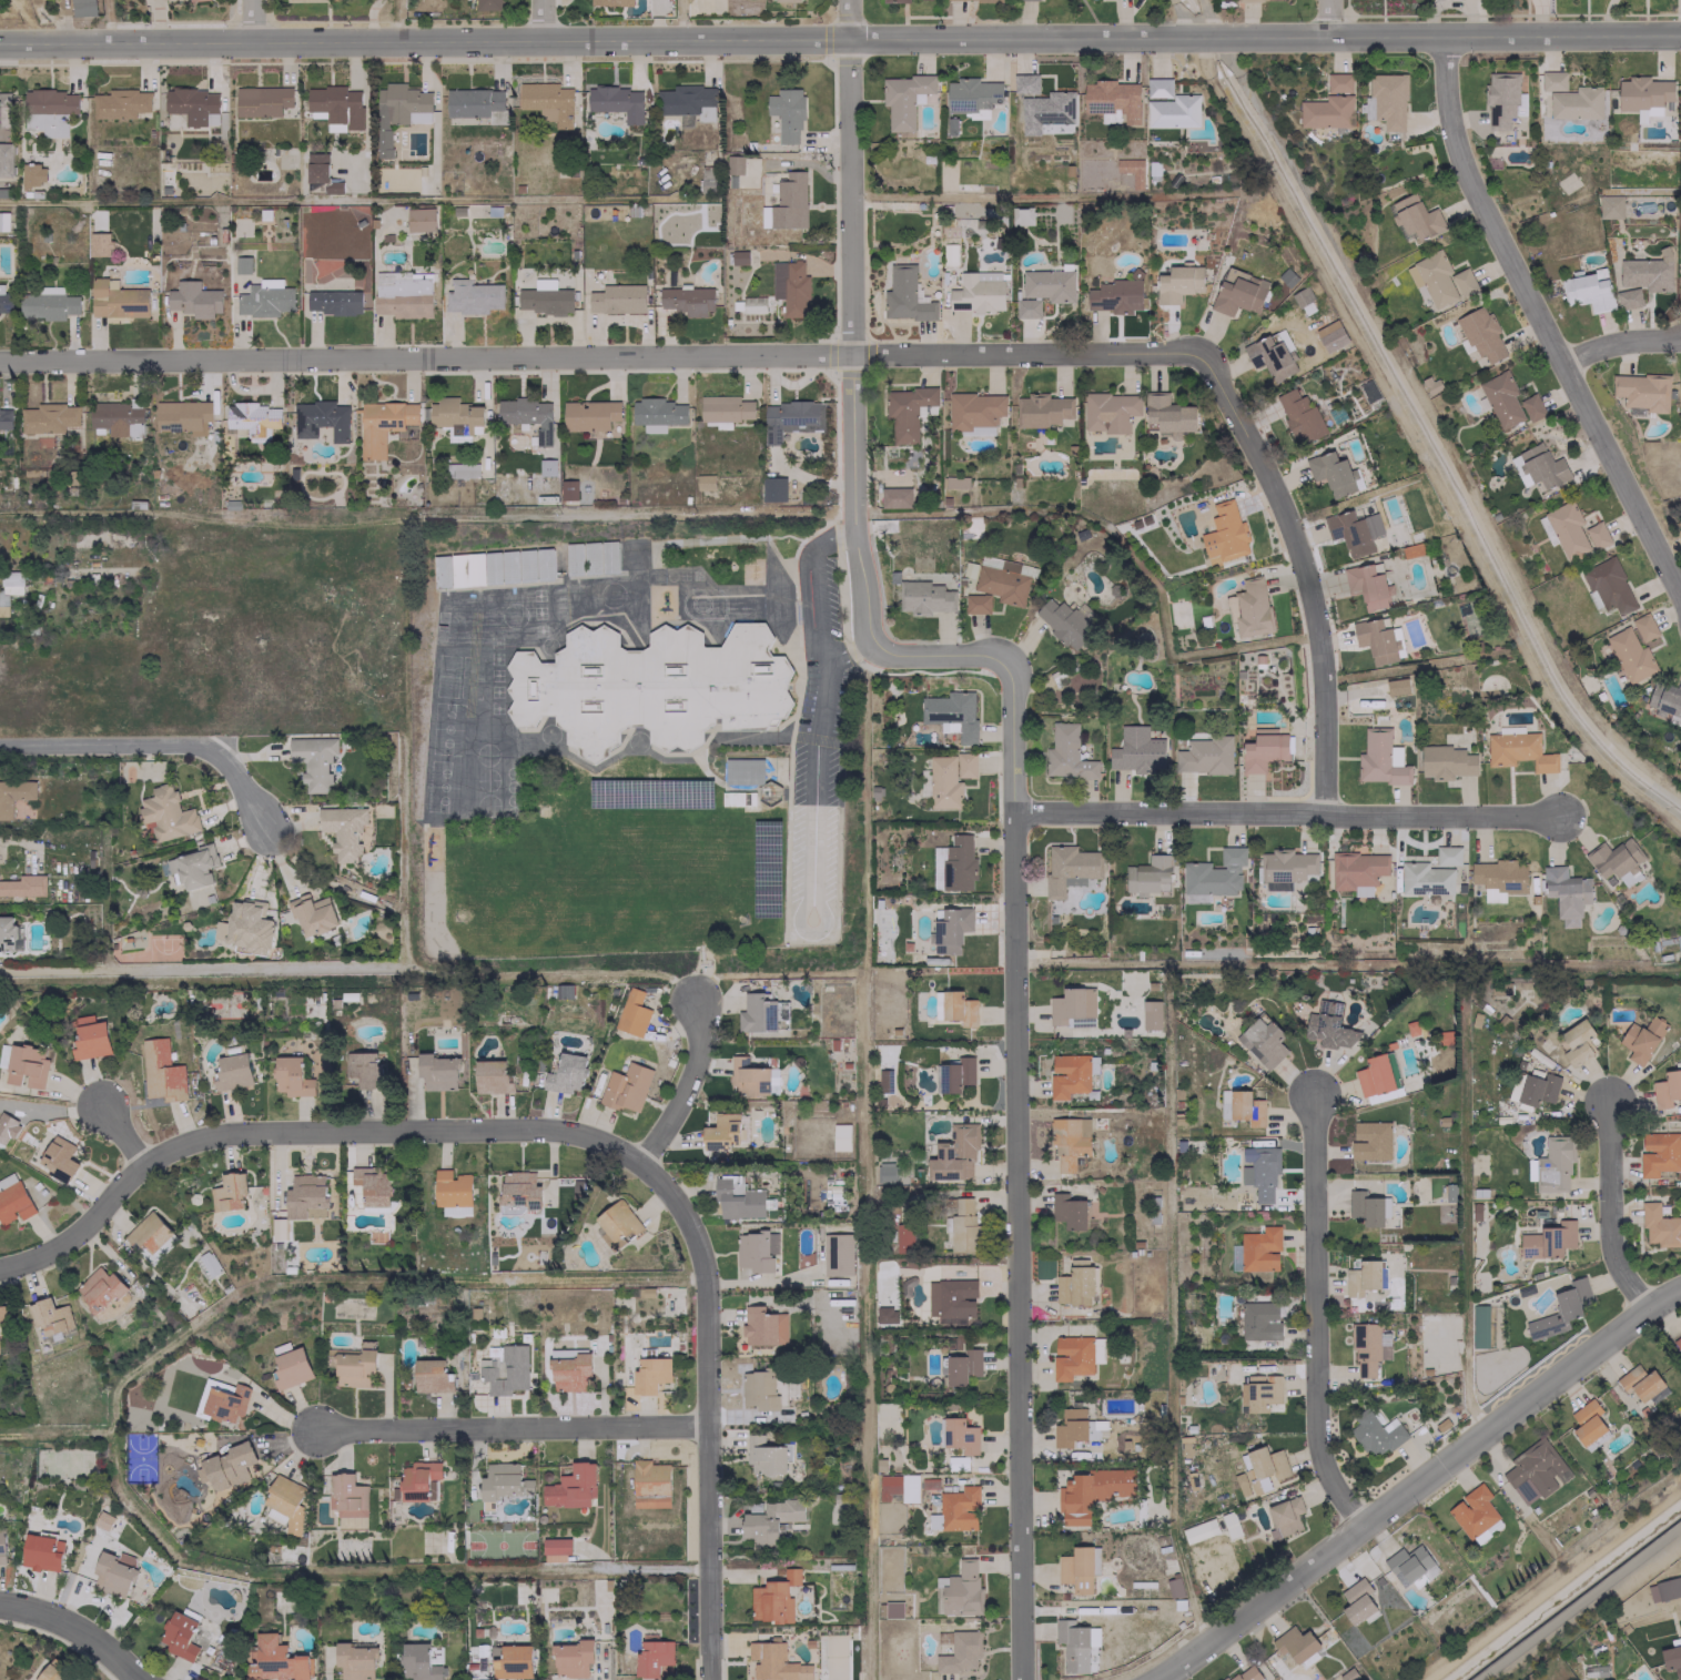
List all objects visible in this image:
building: (196, 0)
building: (786, 0)
building: (1034, 0)
building: (895, 1)
building: (610, 2)
building: (82, 8)
road: (1326, 19)
road: (540, 20)
road: (251, 21)
road: (840, 40)
building: (1338, 82)
building: (1024, 83)
building: (1158, 87)
building: (971, 94)
building: (1643, 95)
building: (903, 99)
building: (1502, 99)
building: (1568, 99)
building: (262, 100)
building: (1112, 100)
building: (1385, 100)
building: (547, 101)
building: (617, 101)
building: (688, 101)
building: (473, 102)
building: (120, 103)
building: (193, 104)
building: (402, 104)
building: (336, 107)
building: (1, 109)
building: (1045, 110)
building: (1174, 111)
building: (1326, 111)
building: (786, 114)
building: (6, 159)
building: (733, 164)
building: (316, 168)
building: (1131, 170)
building: (32, 174)
building: (707, 178)
building: (165, 180)
road: (1035, 196)
building: (787, 203)
building: (1610, 206)
building: (1021, 215)
building: (1416, 216)
building: (421, 219)
building: (3, 221)
building: (99, 243)
building: (739, 257)
building: (242, 264)
building: (1680, 274)
building: (1642, 277)
building: (1439, 279)
building: (1177, 283)
building: (1049, 284)
building: (790, 286)
building: (1587, 289)
building: (978, 292)
building: (1237, 292)
building: (403, 294)
building: (1116, 294)
building: (905, 295)
building: (472, 296)
building: (545, 297)
building: (264, 298)
building: (617, 298)
building: (117, 300)
building: (193, 300)
building: (687, 300)
building: (4, 302)
building: (334, 302)
building: (47, 303)
building: (752, 304)
building: (1026, 307)
road: (1538, 311)
building: (1480, 334)
road: (1620, 340)
road: (597, 355)
building: (1270, 355)
building: (1680, 388)
building: (1642, 391)
building: (1500, 398)
building: (1531, 407)
building: (723, 409)
building: (1042, 409)
building: (907, 411)
building: (974, 412)
building: (1108, 412)
building: (658, 413)
building: (1168, 413)
building: (589, 414)
building: (455, 415)
building: (527, 415)
building: (1298, 415)
building: (182, 416)
building: (4, 417)
building: (49, 417)
building: (118, 417)
building: (253, 418)
building: (789, 418)
building: (321, 419)
building: (382, 425)
building: (1540, 466)
building: (546, 467)
building: (462, 470)
building: (1331, 474)
building: (705, 482)
building: (955, 482)
building: (772, 488)
building: (567, 489)
building: (894, 496)
building: (1567, 529)
building: (1353, 532)
building: (1224, 534)
building: (1597, 535)
road: (830, 536)
building: (590, 558)
road: (1302, 571)
building: (996, 584)
building: (1608, 585)
building: (1366, 586)
building: (8, 589)
building: (924, 597)
building: (1249, 608)
building: (1065, 623)
building: (1643, 627)
building: (1375, 639)
road: (849, 650)
building: (1630, 655)
building: (650, 686)
building: (1397, 686)
building: (1664, 698)
building: (951, 714)
road: (152, 743)
building: (1263, 749)
building: (1518, 751)
building: (1066, 753)
building: (1137, 755)
building: (1204, 756)
building: (1380, 759)
building: (313, 761)
building: (1446, 761)
building: (965, 765)
building: (742, 770)
road: (813, 777)
road: (1011, 778)
building: (943, 783)
building: (13, 795)
road: (1284, 812)
building: (166, 813)
building: (343, 830)
building: (1447, 856)
building: (1616, 860)
building: (953, 864)
building: (190, 867)
building: (1069, 868)
building: (1285, 868)
building: (1358, 871)
building: (1213, 876)
building: (1498, 878)
building: (1425, 879)
building: (23, 885)
building: (1566, 893)
building: (312, 914)
building: (245, 928)
building: (950, 929)
building: (7, 932)
building: (1072, 1006)
building: (958, 1008)
building: (631, 1013)
building: (757, 1013)
building: (1150, 1014)
building: (1328, 1026)
building: (1411, 1028)
building: (89, 1038)
building: (1641, 1039)
building: (1263, 1042)
building: (1577, 1042)
building: (3, 1055)
building: (26, 1066)
building: (364, 1067)
building: (161, 1071)
building: (231, 1072)
building: (437, 1072)
building: (566, 1073)
building: (953, 1074)
building: (1067, 1075)
building: (1374, 1075)
building: (290, 1076)
building: (492, 1076)
building: (748, 1077)
building: (884, 1081)
road: (683, 1086)
building: (626, 1087)
building: (1532, 1087)
building: (1667, 1089)
building: (1241, 1106)
road: (301, 1131)
road: (121, 1135)
building: (840, 1136)
building: (1370, 1140)
building: (1069, 1142)
building: (953, 1152)
building: (1660, 1154)
building: (59, 1158)
building: (1553, 1164)
building: (885, 1172)
building: (1259, 1172)
building: (372, 1185)
building: (519, 1188)
building: (450, 1191)
building: (229, 1192)
building: (305, 1195)
building: (737, 1197)
building: (12, 1200)
building: (1365, 1207)
building: (1067, 1211)
road: (1611, 1211)
building: (617, 1224)
building: (962, 1225)
building: (1659, 1227)
building: (277, 1229)
building: (148, 1233)
building: (1547, 1241)
building: (1259, 1248)
building: (757, 1251)
building: (837, 1254)
building: (206, 1265)
building: (1361, 1277)
road: (312, 1281)
building: (1075, 1283)
building: (99, 1288)
building: (951, 1299)
building: (1560, 1309)
building: (3, 1314)
building: (887, 1314)
building: (50, 1316)
road: (1316, 1319)
building: (1259, 1320)
building: (762, 1326)
building: (1478, 1326)
building: (1677, 1344)
building: (1367, 1347)
building: (1075, 1356)
building: (288, 1365)
building: (352, 1365)
building: (962, 1366)
building: (570, 1372)
building: (650, 1375)
building: (431, 1376)
building: (1639, 1382)
building: (759, 1389)
building: (1259, 1391)
building: (222, 1399)
road: (706, 1410)
building: (1587, 1421)
road: (510, 1427)
building: (1070, 1427)
building: (1375, 1434)
building: (959, 1435)
building: (763, 1456)
building: (226, 1466)
building: (1263, 1468)
building: (1535, 1471)
building: (417, 1479)
building: (503, 1480)
building: (650, 1484)
building: (1241, 1484)
road: (1418, 1484)
building: (570, 1487)
building: (898, 1487)
building: (1091, 1492)
building: (347, 1495)
building: (285, 1500)
building: (958, 1508)
building: (1475, 1514)
building: (1286, 1515)
building: (102, 1520)
building: (770, 1520)
building: (1198, 1530)
building: (1, 1546)
building: (555, 1546)
building: (39, 1551)
building: (1407, 1563)
building: (1076, 1569)
building: (113, 1572)
road: (360, 1572)
building: (1664, 1589)
building: (962, 1590)
building: (773, 1598)
building: (1356, 1600)
road: (1579, 1602)
building: (893, 1609)
road: (77, 1631)
building: (179, 1635)
building: (1295, 1643)
building: (1072, 1644)
building: (960, 1652)
building: (652, 1657)
building: (1672, 1657)
building: (571, 1658)
building: (274, 1660)
building: (354, 1661)
building: (514, 1661)
building: (418, 1662)
building: (776, 1662)
building: (50, 1673)
building: (1245, 1673)
road: (140, 1679)

